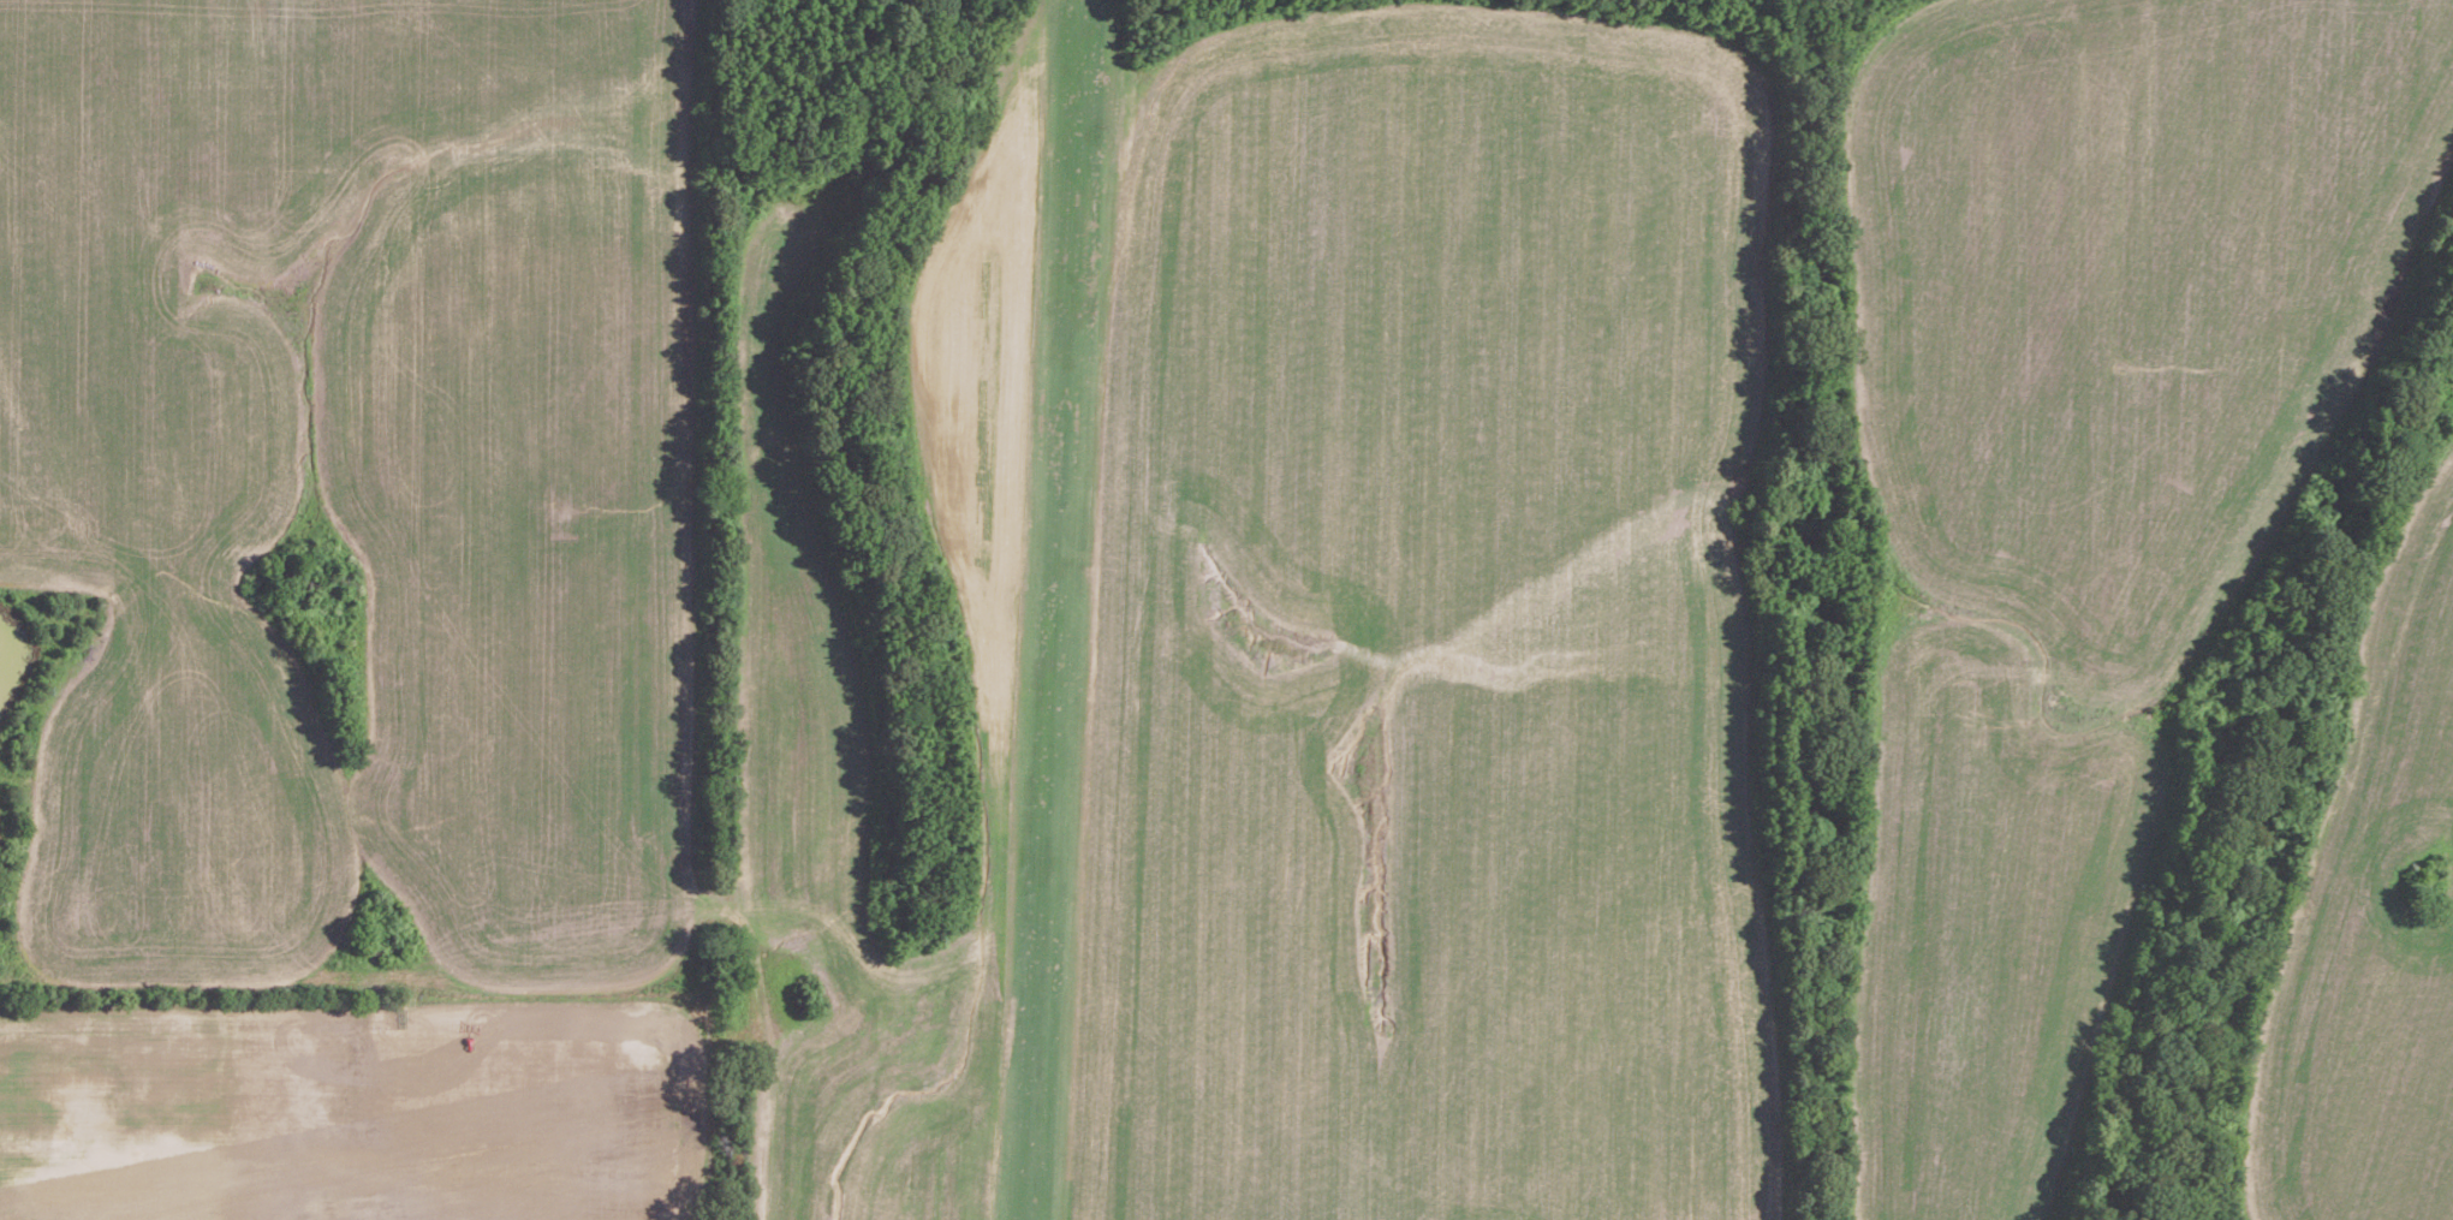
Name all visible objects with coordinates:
airport runway: (1064, 609)

